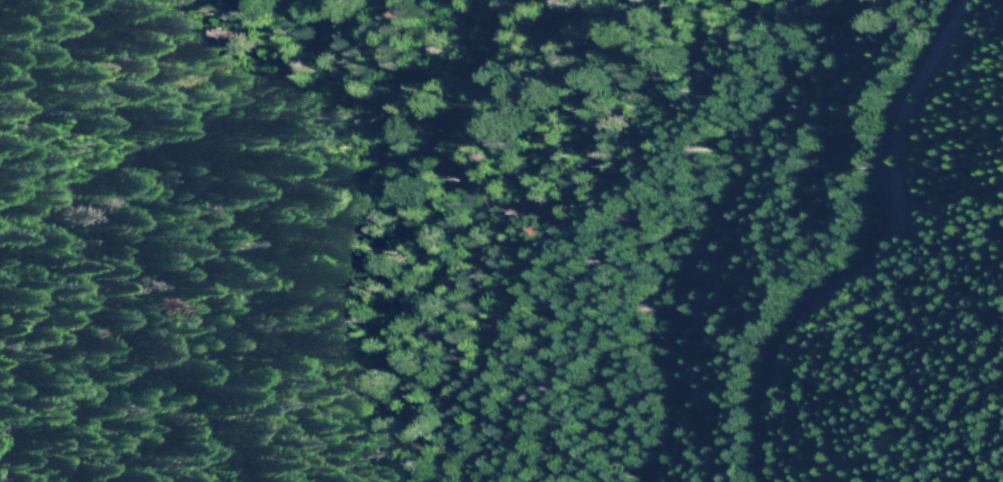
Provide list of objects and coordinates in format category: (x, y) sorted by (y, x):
road: (844, 244)

